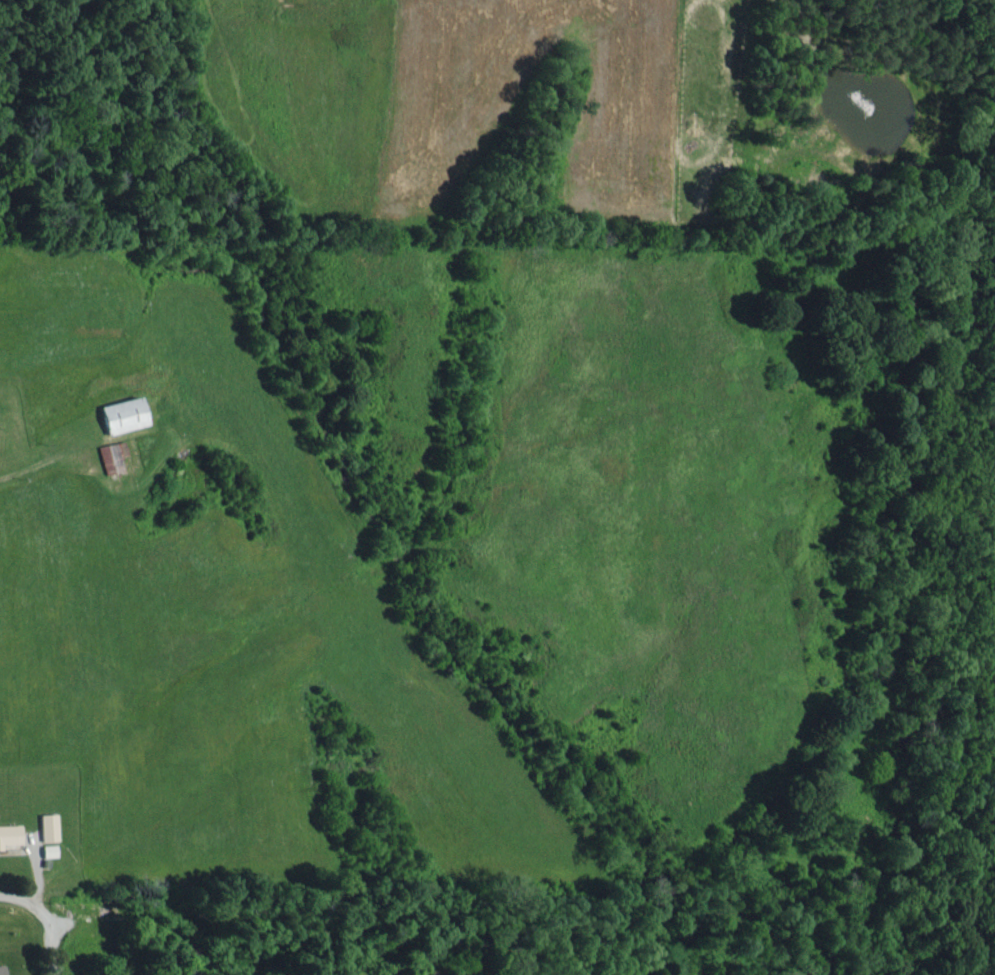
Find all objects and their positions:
building: (120, 414)
building: (111, 456)
building: (47, 826)
building: (9, 834)
building: (47, 850)
road: (5, 894)
building: (1, 969)

